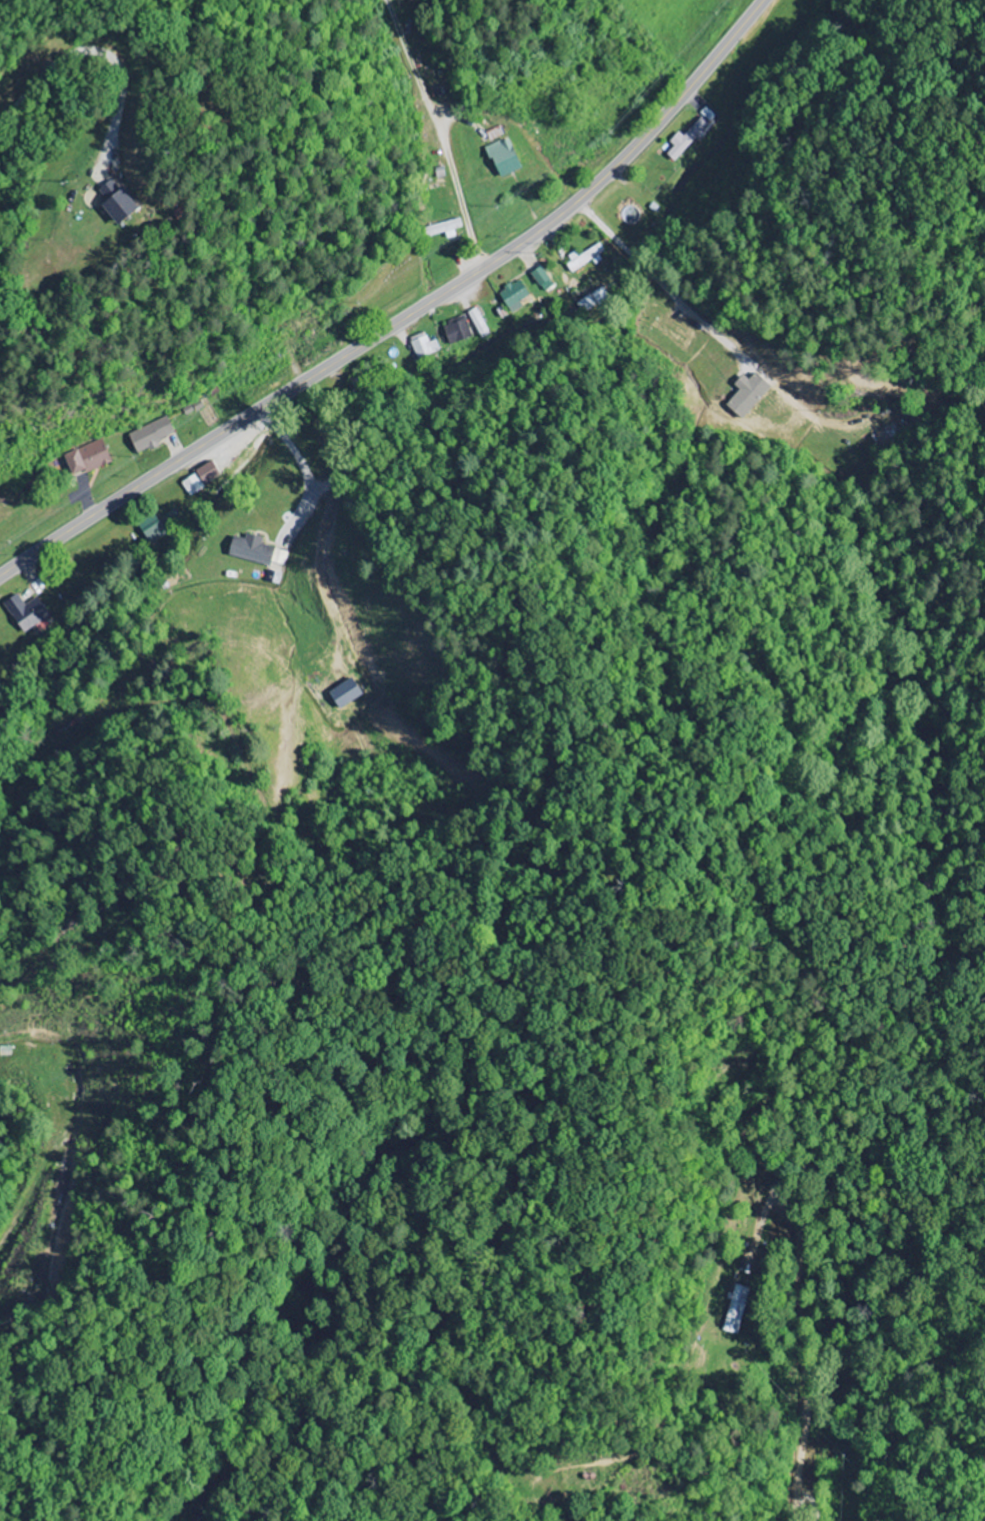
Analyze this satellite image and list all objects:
building: (707, 114)
building: (686, 140)
building: (503, 158)
building: (115, 202)
building: (445, 229)
building: (583, 258)
building: (541, 279)
building: (513, 296)
building: (593, 300)
road: (405, 317)
building: (478, 323)
building: (456, 331)
building: (424, 346)
building: (746, 394)
building: (151, 435)
building: (87, 458)
building: (199, 478)
building: (151, 530)
building: (249, 550)
building: (279, 557)
building: (25, 613)
building: (342, 694)
building: (737, 1310)
road: (565, 1328)

